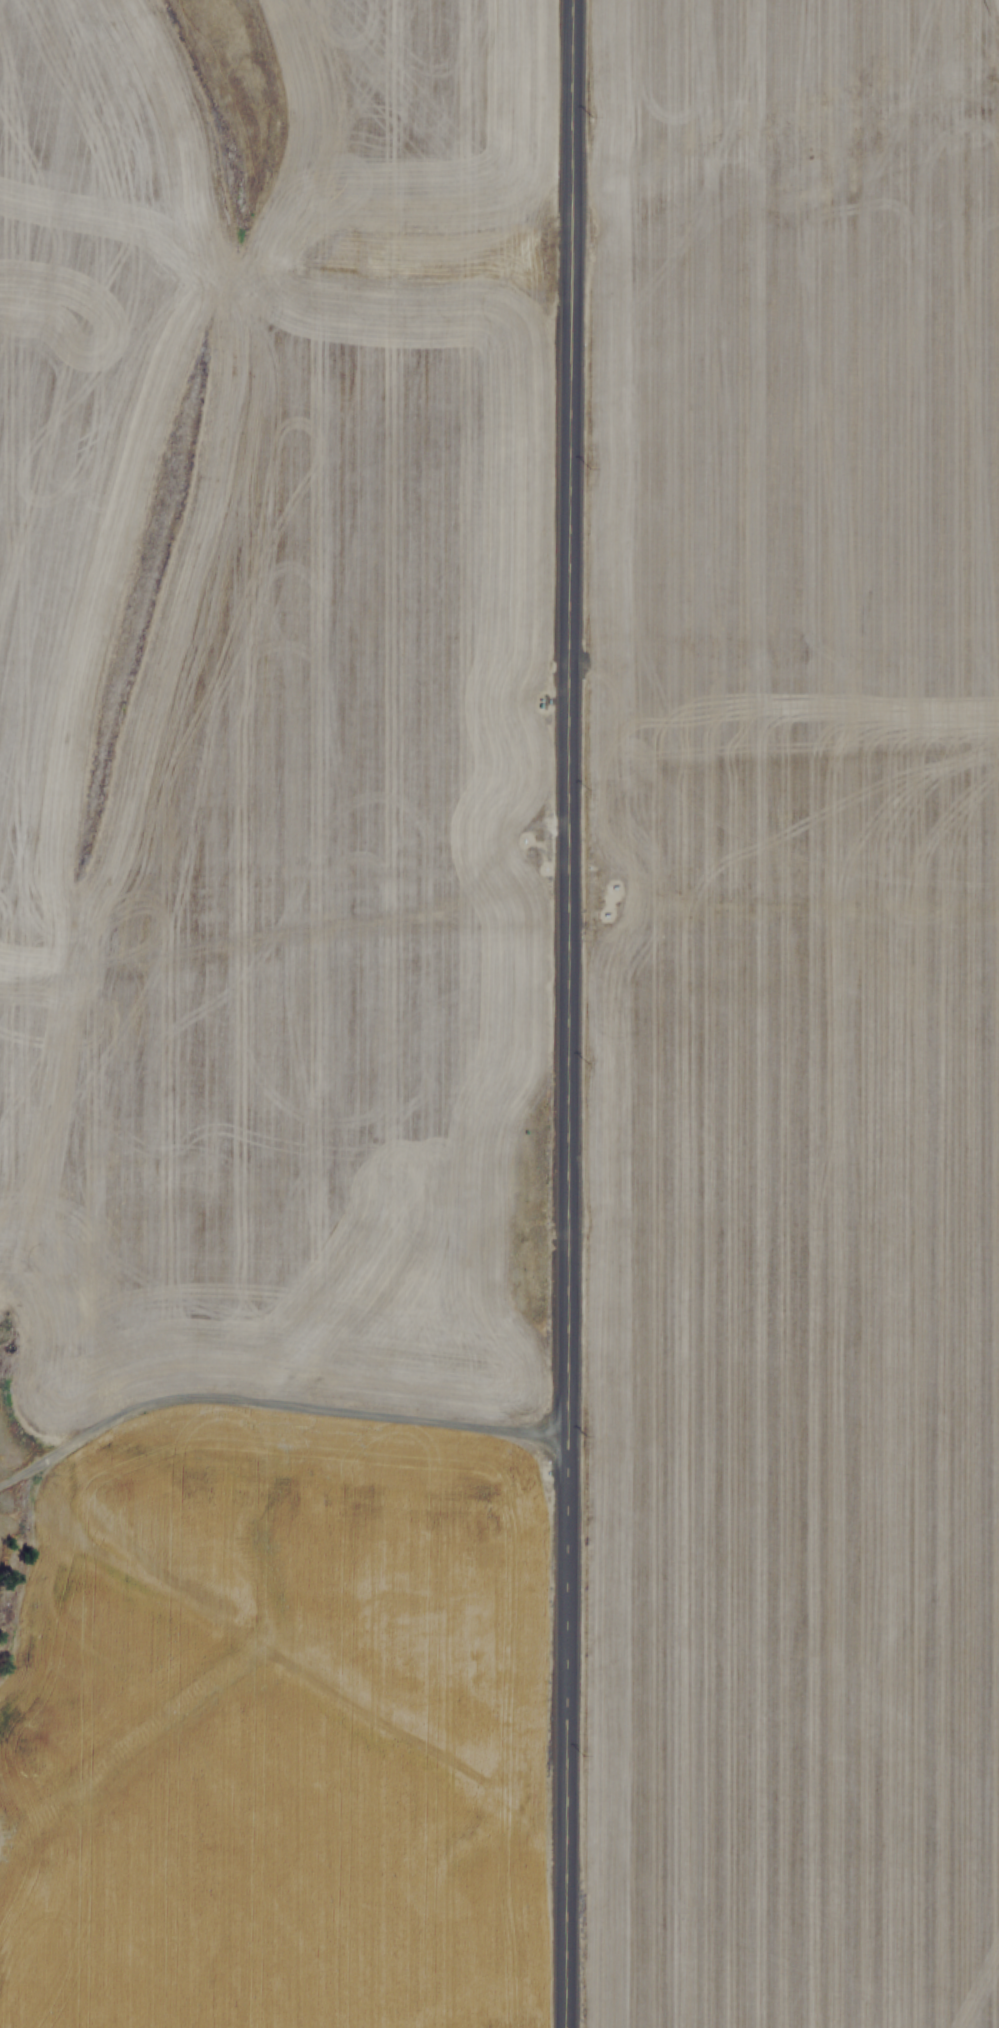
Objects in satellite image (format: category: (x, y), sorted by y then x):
road: (563, 1013)

